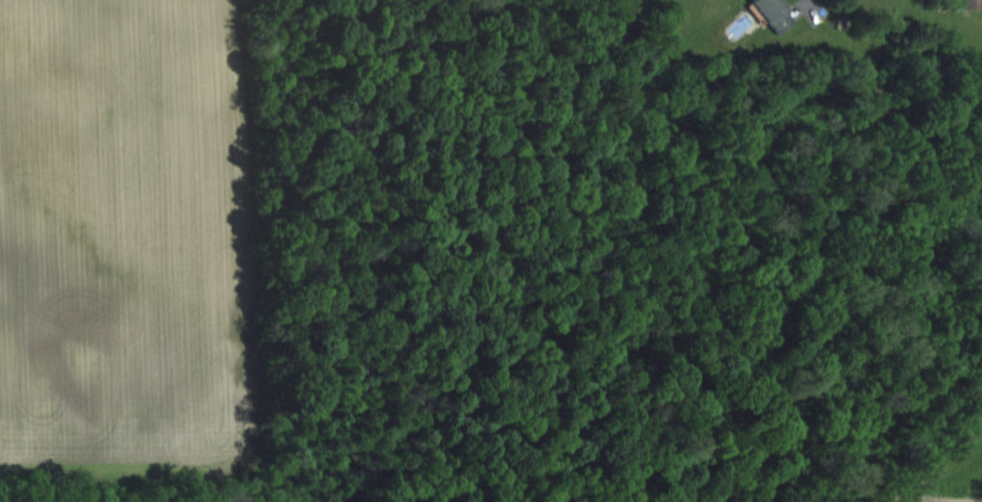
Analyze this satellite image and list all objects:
building: (971, 3)
building: (773, 13)

